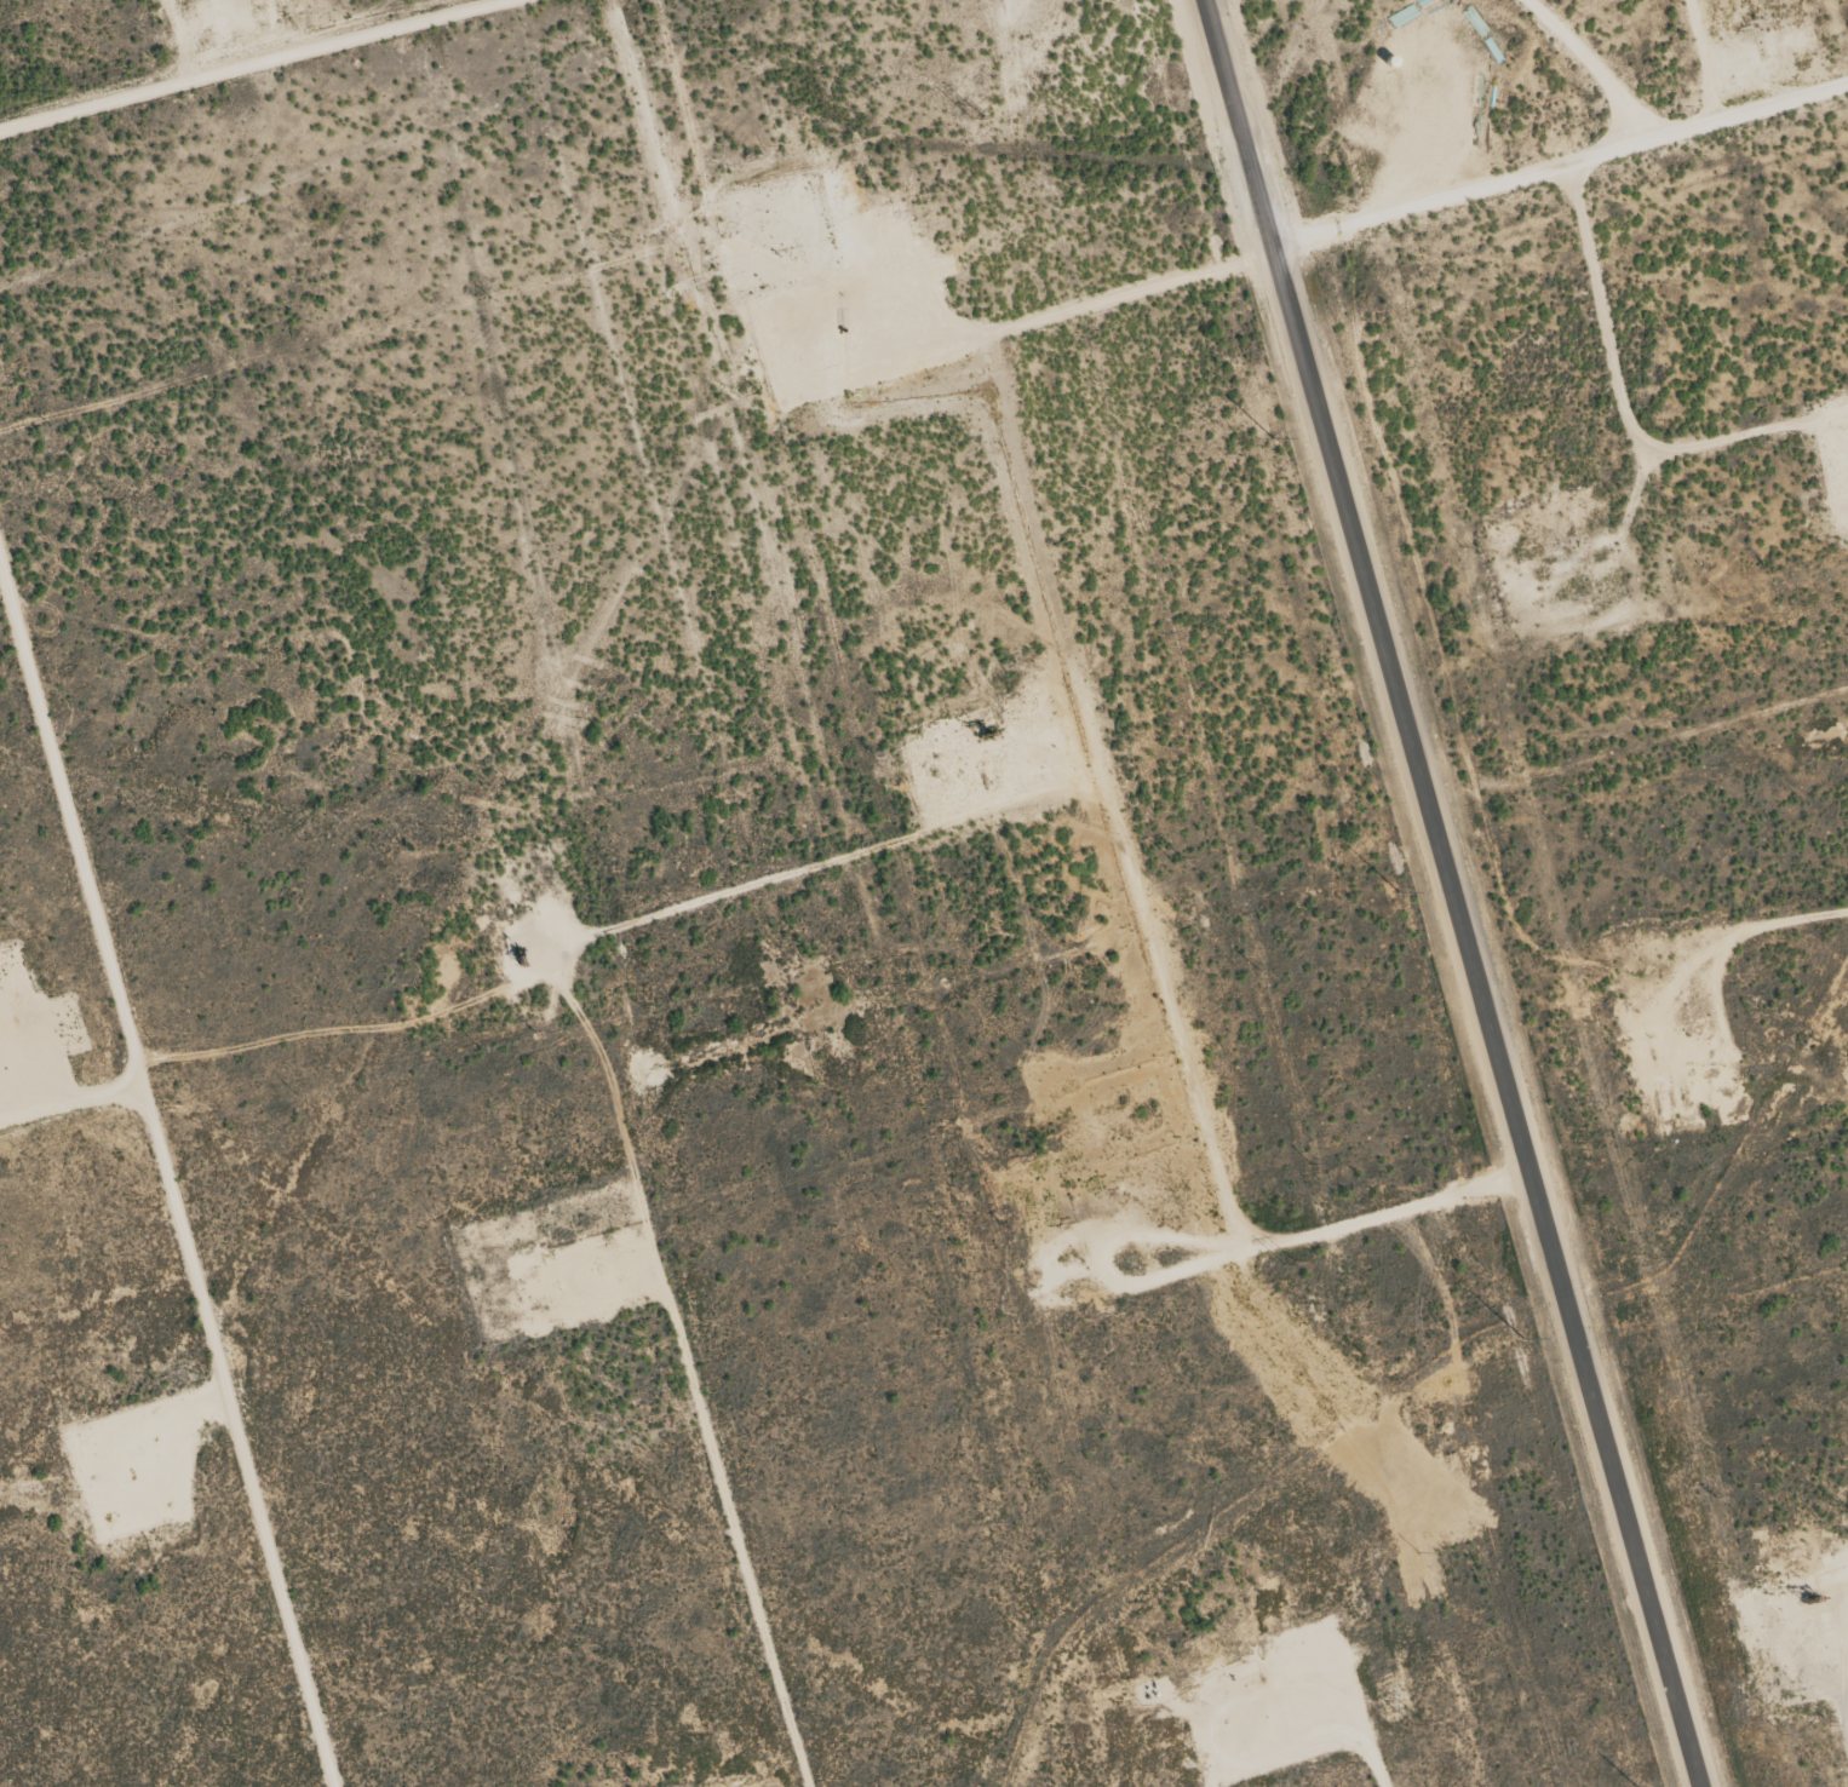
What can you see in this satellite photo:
power tower: (975, 116)
road: (1557, 166)
power tower: (1075, 484)
power tower: (1176, 857)
road: (1448, 892)
road: (166, 1165)
power tower: (1289, 1260)
power tower: (1416, 1717)

